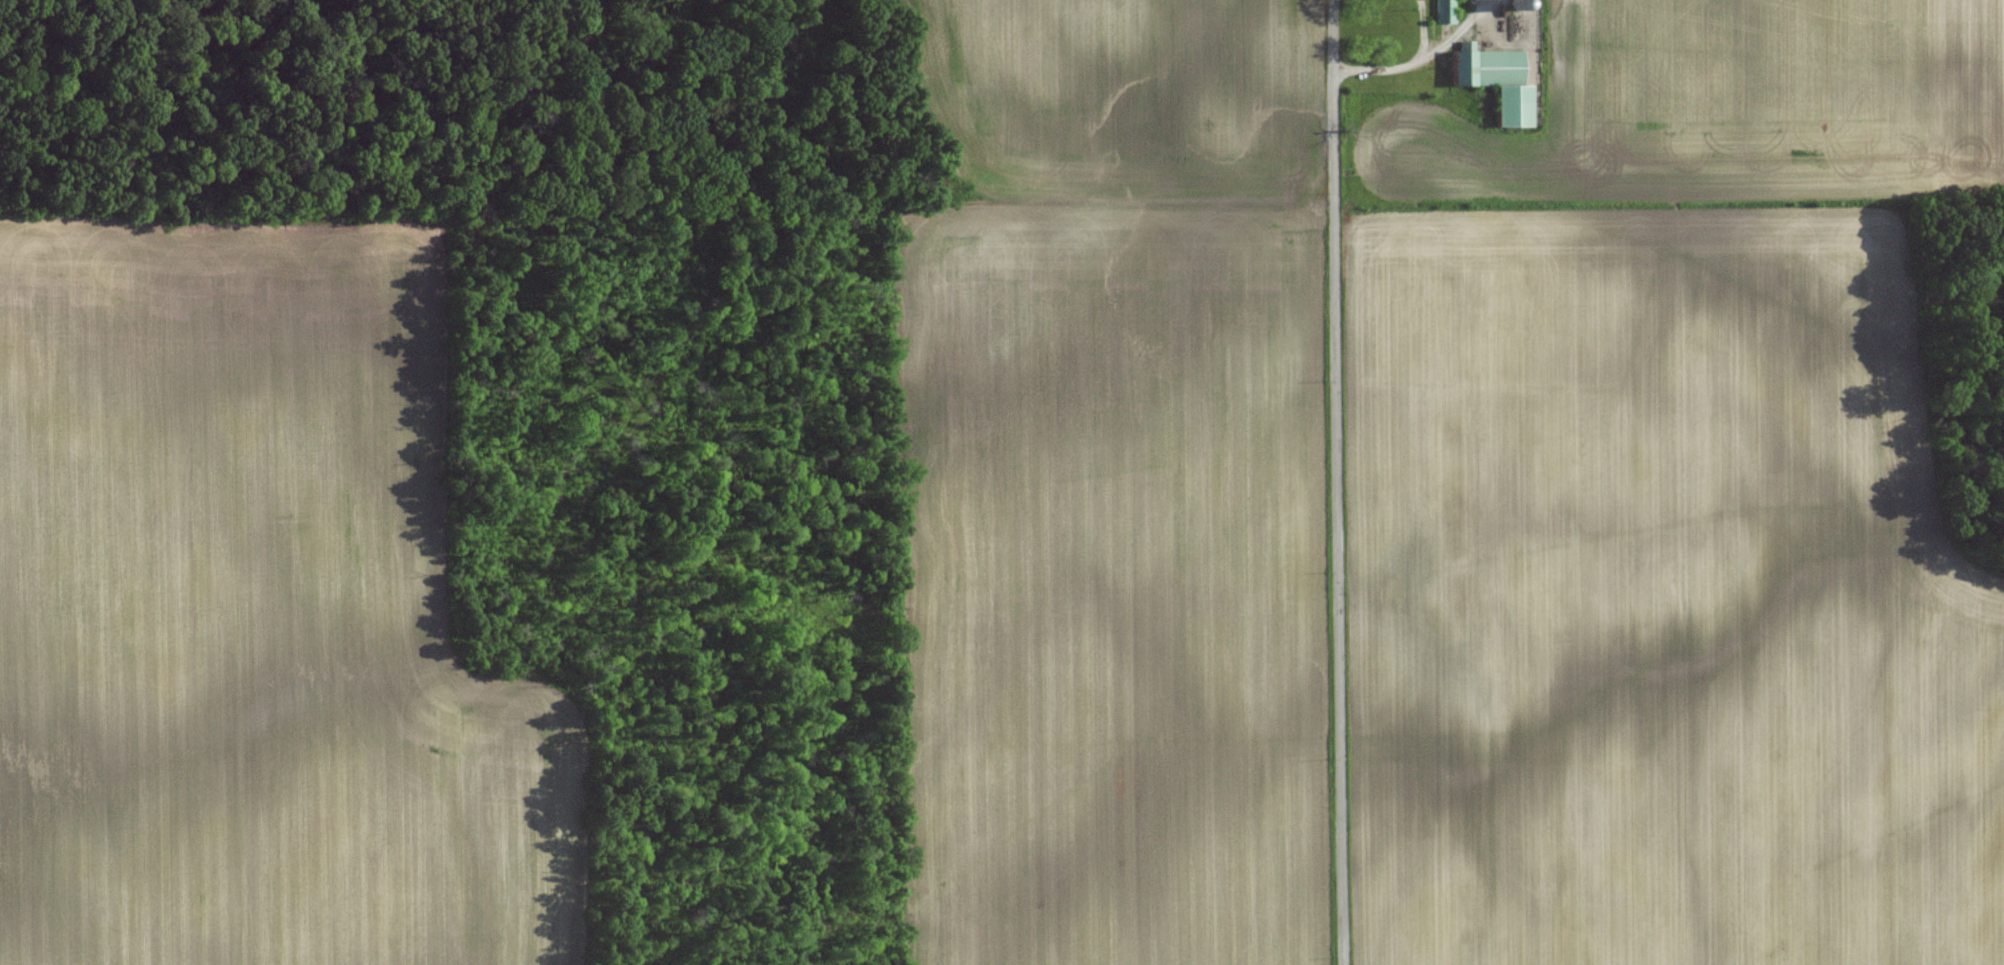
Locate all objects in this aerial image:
road: (1404, 64)
building: (1497, 80)
road: (1336, 482)

